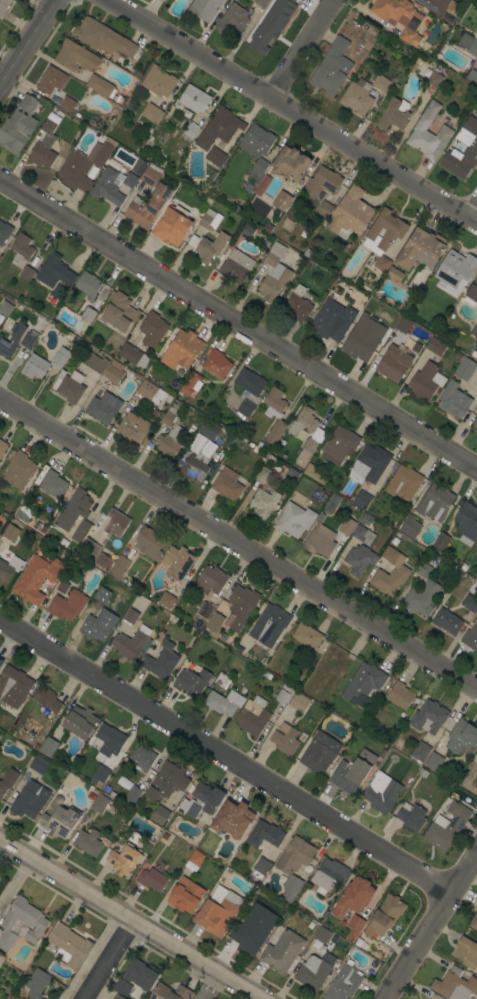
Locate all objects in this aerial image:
building: (260, 2)
building: (434, 5)
building: (3, 6)
building: (204, 8)
building: (394, 9)
building: (232, 19)
building: (269, 27)
building: (406, 35)
building: (475, 35)
building: (102, 37)
road: (28, 44)
building: (469, 44)
road: (302, 48)
building: (75, 56)
building: (331, 67)
building: (471, 75)
building: (434, 79)
building: (51, 80)
building: (158, 82)
building: (381, 82)
building: (103, 88)
building: (356, 96)
building: (194, 98)
building: (67, 104)
road: (292, 109)
building: (152, 113)
building: (394, 113)
building: (224, 124)
building: (18, 125)
building: (190, 130)
building: (428, 133)
building: (256, 140)
building: (202, 141)
building: (44, 146)
building: (470, 150)
building: (214, 158)
building: (291, 163)
building: (83, 165)
building: (138, 166)
building: (259, 168)
building: (148, 177)
building: (322, 182)
building: (111, 185)
building: (262, 185)
building: (281, 200)
building: (260, 204)
building: (148, 206)
building: (324, 209)
building: (354, 211)
road: (474, 215)
building: (209, 219)
building: (172, 225)
building: (395, 229)
building: (4, 231)
building: (207, 246)
building: (22, 248)
building: (421, 249)
building: (307, 253)
building: (382, 263)
building: (236, 266)
building: (54, 271)
building: (26, 273)
building: (274, 273)
building: (454, 273)
building: (394, 274)
building: (88, 284)
building: (337, 290)
building: (473, 291)
building: (56, 294)
building: (297, 304)
building: (5, 308)
building: (119, 311)
building: (88, 314)
building: (1, 317)
building: (332, 320)
road: (238, 324)
building: (402, 325)
building: (152, 330)
building: (474, 330)
building: (0, 337)
building: (12, 339)
building: (28, 339)
building: (360, 339)
building: (435, 346)
building: (182, 349)
building: (133, 356)
building: (60, 357)
building: (95, 362)
building: (394, 362)
building: (216, 364)
building: (34, 366)
building: (464, 369)
building: (113, 371)
building: (250, 381)
building: (424, 381)
building: (191, 383)
building: (69, 386)
building: (150, 391)
building: (453, 400)
building: (103, 407)
building: (246, 408)
building: (274, 414)
building: (303, 421)
building: (475, 425)
building: (132, 427)
building: (208, 429)
building: (169, 436)
building: (200, 438)
building: (339, 444)
building: (309, 445)
building: (2, 447)
building: (371, 463)
building: (195, 466)
building: (18, 470)
building: (264, 473)
building: (314, 474)
building: (403, 482)
building: (52, 484)
building: (227, 484)
building: (362, 500)
building: (265, 502)
building: (435, 502)
building: (331, 503)
building: (73, 509)
building: (23, 513)
building: (320, 517)
building: (294, 519)
building: (115, 523)
building: (466, 523)
building: (347, 526)
building: (410, 527)
building: (363, 530)
building: (81, 531)
building: (11, 532)
building: (319, 540)
building: (149, 542)
building: (440, 542)
road: (238, 545)
building: (90, 546)
building: (359, 559)
building: (103, 561)
building: (177, 562)
building: (9, 567)
building: (117, 567)
building: (422, 569)
building: (390, 573)
building: (37, 578)
building: (210, 580)
building: (62, 586)
building: (421, 597)
building: (166, 600)
building: (469, 602)
building: (67, 605)
building: (241, 606)
building: (205, 610)
building: (130, 616)
building: (447, 621)
building: (91, 623)
building: (214, 624)
building: (269, 625)
building: (306, 635)
building: (470, 637)
building: (131, 643)
building: (238, 649)
building: (161, 660)
building: (1, 662)
building: (222, 680)
building: (191, 682)
building: (363, 684)
building: (14, 686)
building: (284, 694)
building: (400, 695)
building: (47, 699)
building: (223, 701)
building: (299, 702)
building: (252, 716)
building: (429, 716)
building: (80, 722)
building: (302, 736)
building: (462, 737)
building: (285, 739)
building: (109, 742)
building: (48, 746)
building: (420, 751)
building: (320, 752)
road: (225, 754)
building: (143, 757)
building: (434, 762)
building: (39, 765)
building: (353, 772)
building: (422, 772)
building: (99, 774)
building: (167, 781)
building: (124, 782)
building: (475, 782)
building: (3, 788)
building: (132, 795)
building: (383, 796)
building: (200, 801)
building: (29, 802)
building: (98, 802)
building: (159, 815)
building: (411, 817)
building: (59, 818)
building: (233, 818)
building: (446, 827)
building: (265, 834)
building: (88, 842)
building: (196, 858)
building: (123, 859)
building: (293, 865)
building: (260, 867)
building: (329, 876)
building: (152, 879)
road: (14, 884)
building: (185, 895)
building: (353, 896)
building: (218, 910)
building: (384, 916)
building: (473, 922)
road: (126, 923)
building: (36, 924)
road: (429, 924)
building: (353, 927)
building: (248, 935)
building: (322, 935)
building: (68, 946)
building: (465, 950)
building: (282, 952)
road: (89, 958)
road: (104, 961)
building: (314, 971)
building: (140, 974)
building: (36, 983)
building: (343, 983)
building: (455, 985)
building: (122, 987)
road: (206, 987)
building: (169, 992)
building: (118, 997)

